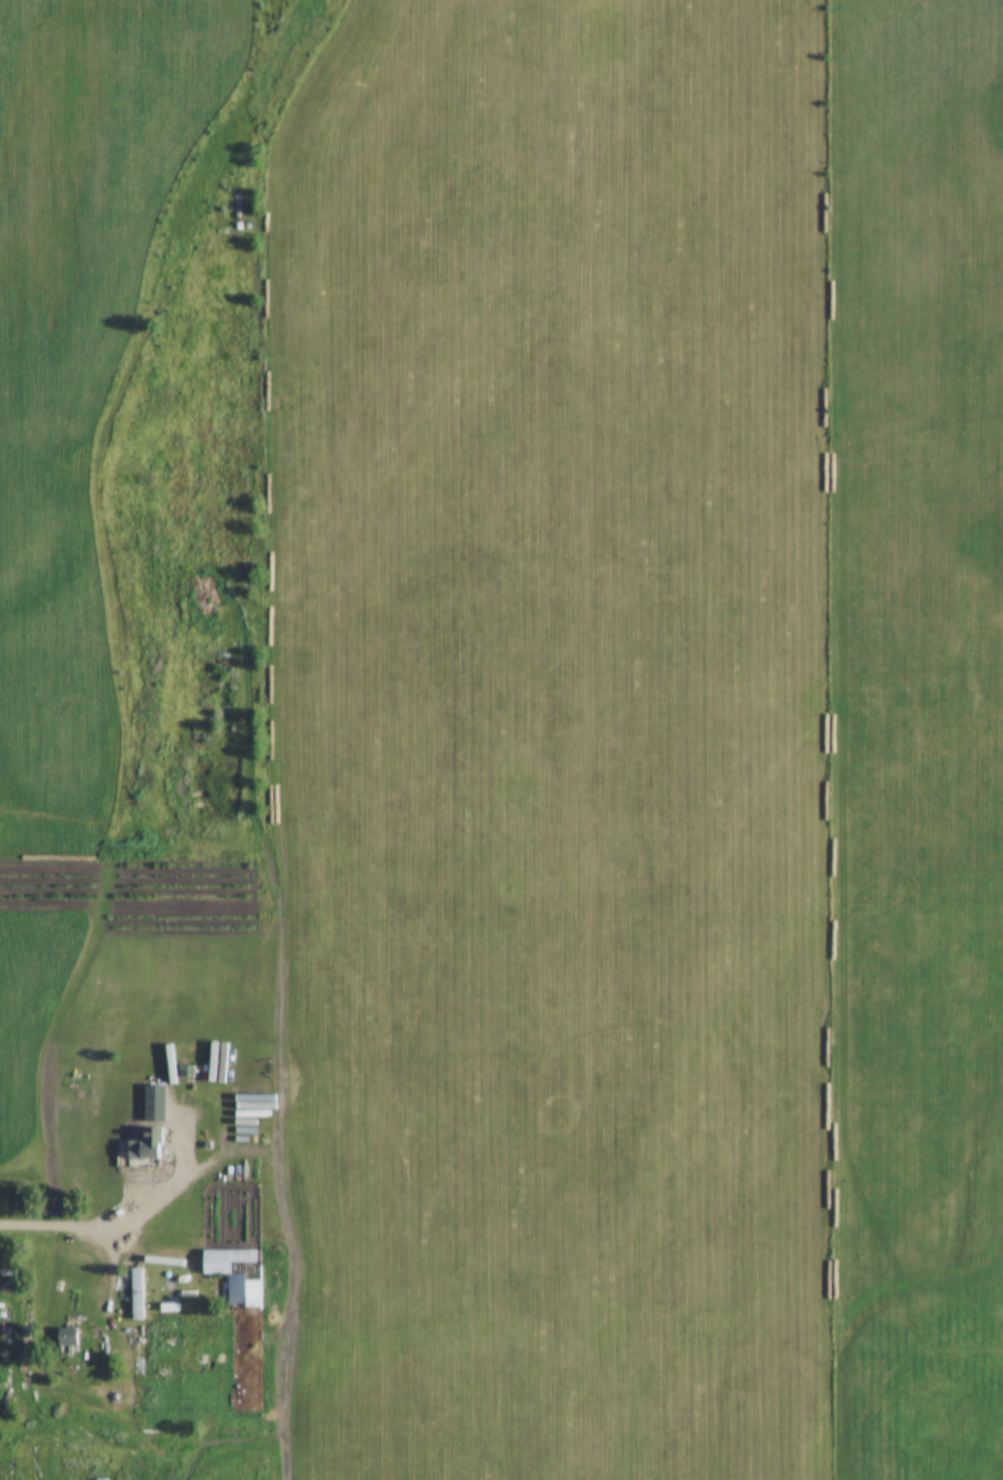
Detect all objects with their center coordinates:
building: (184, 1073)
building: (143, 1145)
road: (90, 1230)
building: (235, 1276)
building: (135, 1294)
building: (65, 1341)

